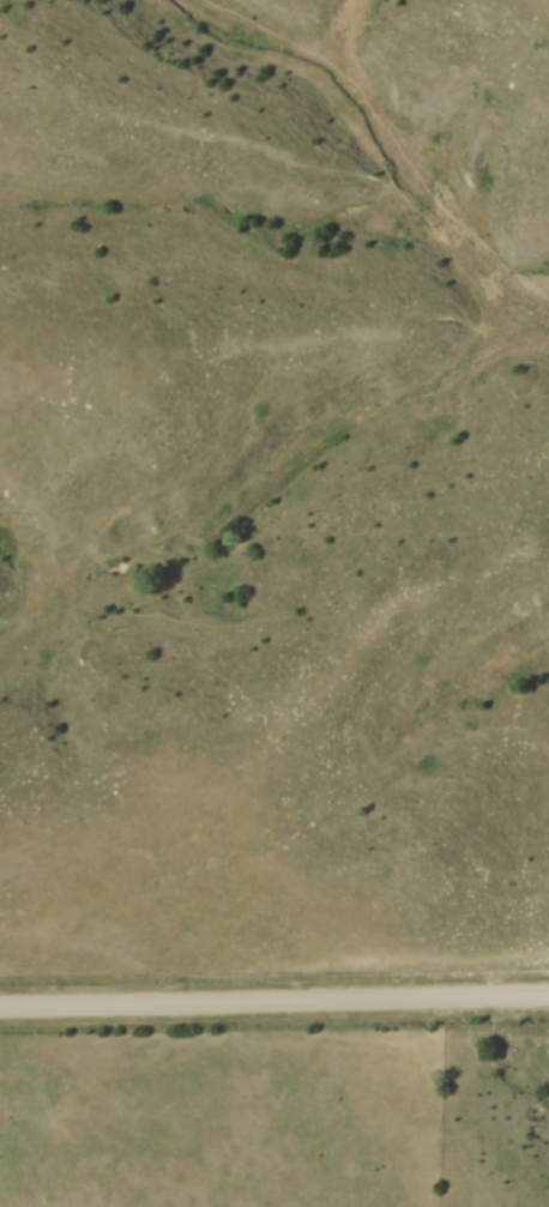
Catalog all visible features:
road: (274, 996)

